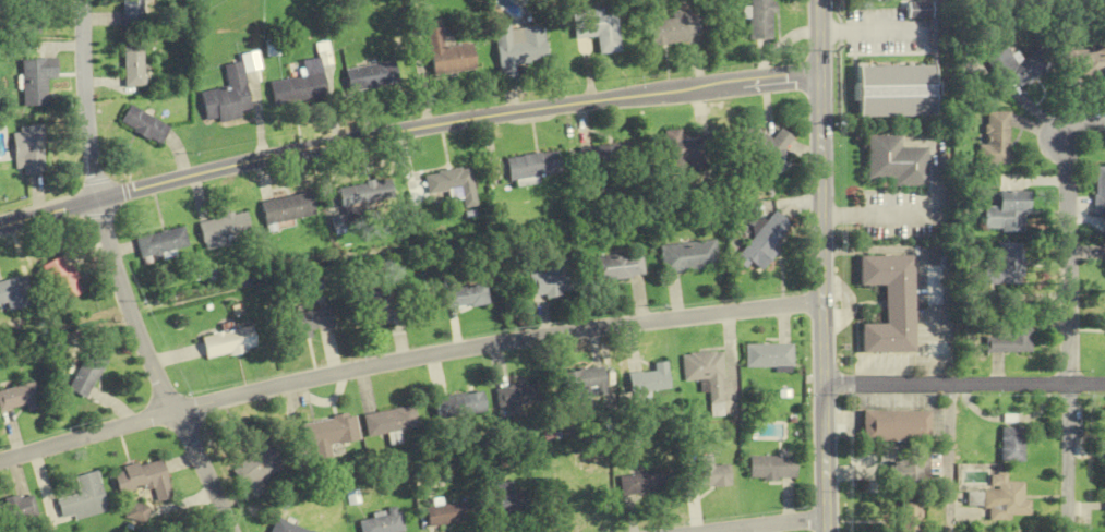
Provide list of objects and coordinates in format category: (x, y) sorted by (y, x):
building: (921, 8)
building: (131, 13)
building: (33, 14)
building: (761, 20)
building: (675, 28)
building: (599, 29)
road: (867, 31)
building: (519, 47)
building: (448, 51)
building: (1085, 62)
building: (132, 64)
building: (1014, 66)
building: (376, 75)
building: (37, 80)
building: (301, 86)
building: (896, 90)
building: (228, 96)
road: (457, 119)
road: (1085, 120)
building: (144, 124)
building: (994, 137)
building: (765, 143)
building: (31, 148)
building: (684, 149)
building: (610, 159)
building: (894, 160)
building: (532, 165)
building: (454, 183)
building: (1100, 189)
building: (362, 194)
building: (290, 208)
building: (1007, 210)
road: (49, 213)
building: (224, 229)
building: (163, 242)
building: (764, 242)
building: (689, 255)
road: (824, 265)
building: (1001, 265)
building: (616, 266)
road: (120, 276)
building: (63, 278)
building: (551, 279)
building: (15, 293)
building: (467, 295)
building: (890, 303)
building: (377, 309)
building: (314, 322)
road: (1070, 325)
building: (1010, 336)
building: (231, 340)
building: (769, 355)
road: (408, 358)
building: (91, 372)
building: (707, 376)
building: (649, 378)
building: (581, 382)
road: (965, 384)
building: (514, 395)
building: (21, 396)
building: (458, 404)
building: (392, 420)
building: (896, 425)
building: (332, 433)
building: (1104, 440)
building: (1012, 445)
building: (262, 467)
building: (773, 467)
building: (904, 470)
building: (708, 476)
building: (147, 479)
building: (639, 483)
building: (86, 498)
building: (502, 498)
building: (1006, 498)
building: (22, 507)
building: (448, 513)
building: (910, 515)
building: (384, 522)
road: (765, 524)
building: (288, 527)

